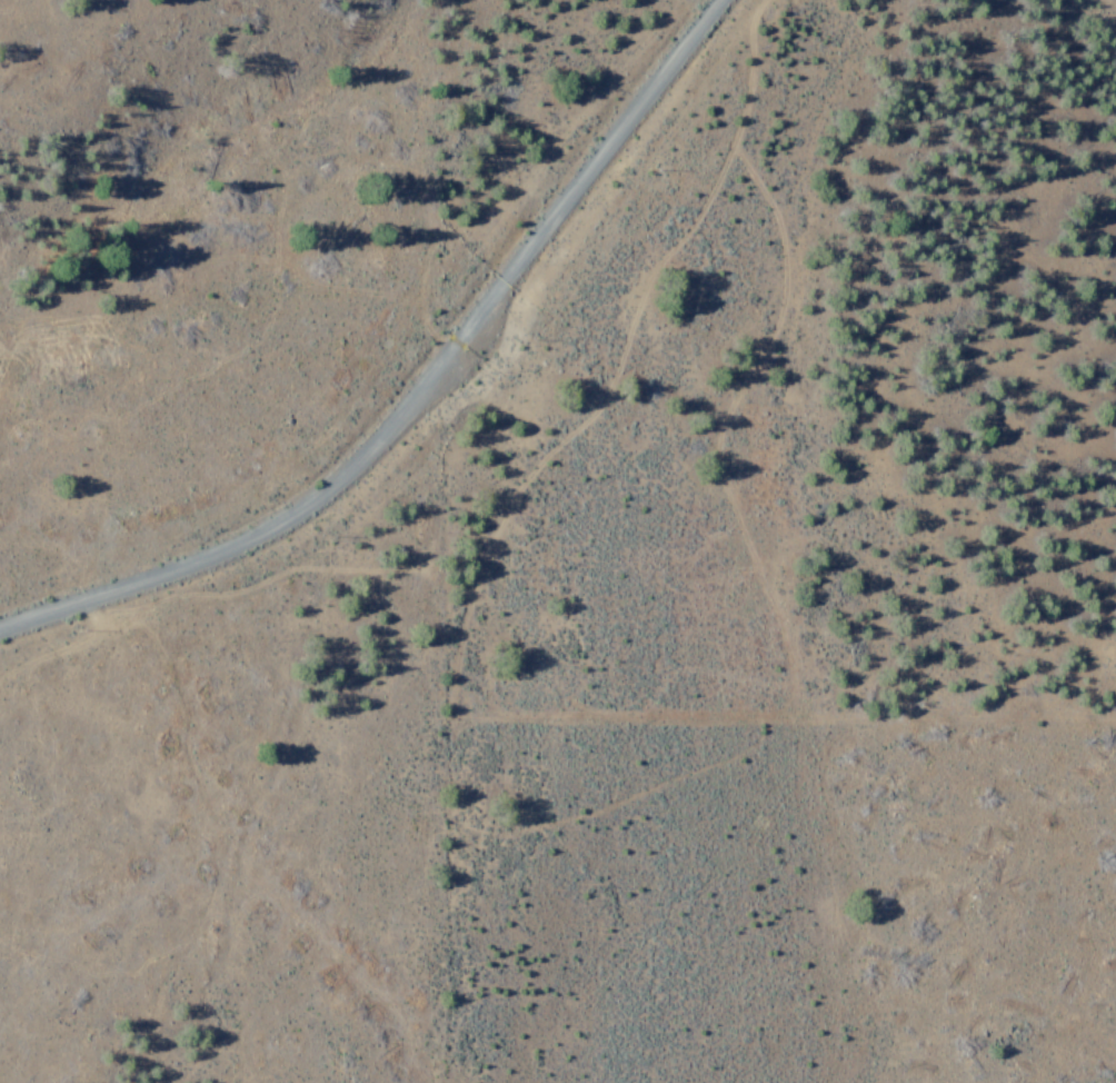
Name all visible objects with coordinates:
road: (422, 400)

